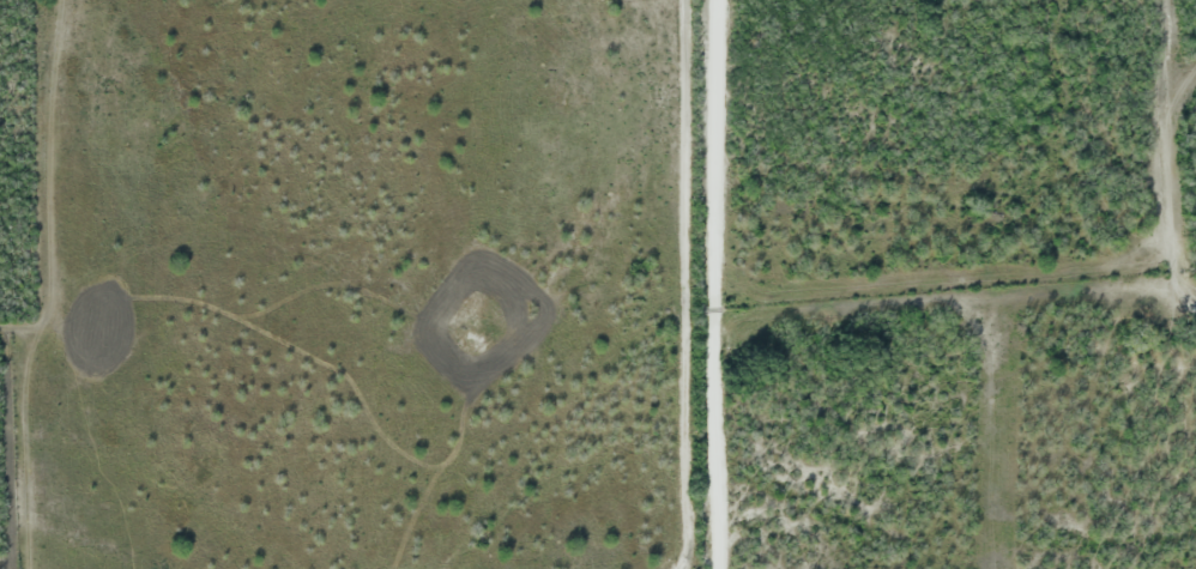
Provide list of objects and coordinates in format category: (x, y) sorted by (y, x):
road: (720, 284)
road: (683, 285)

